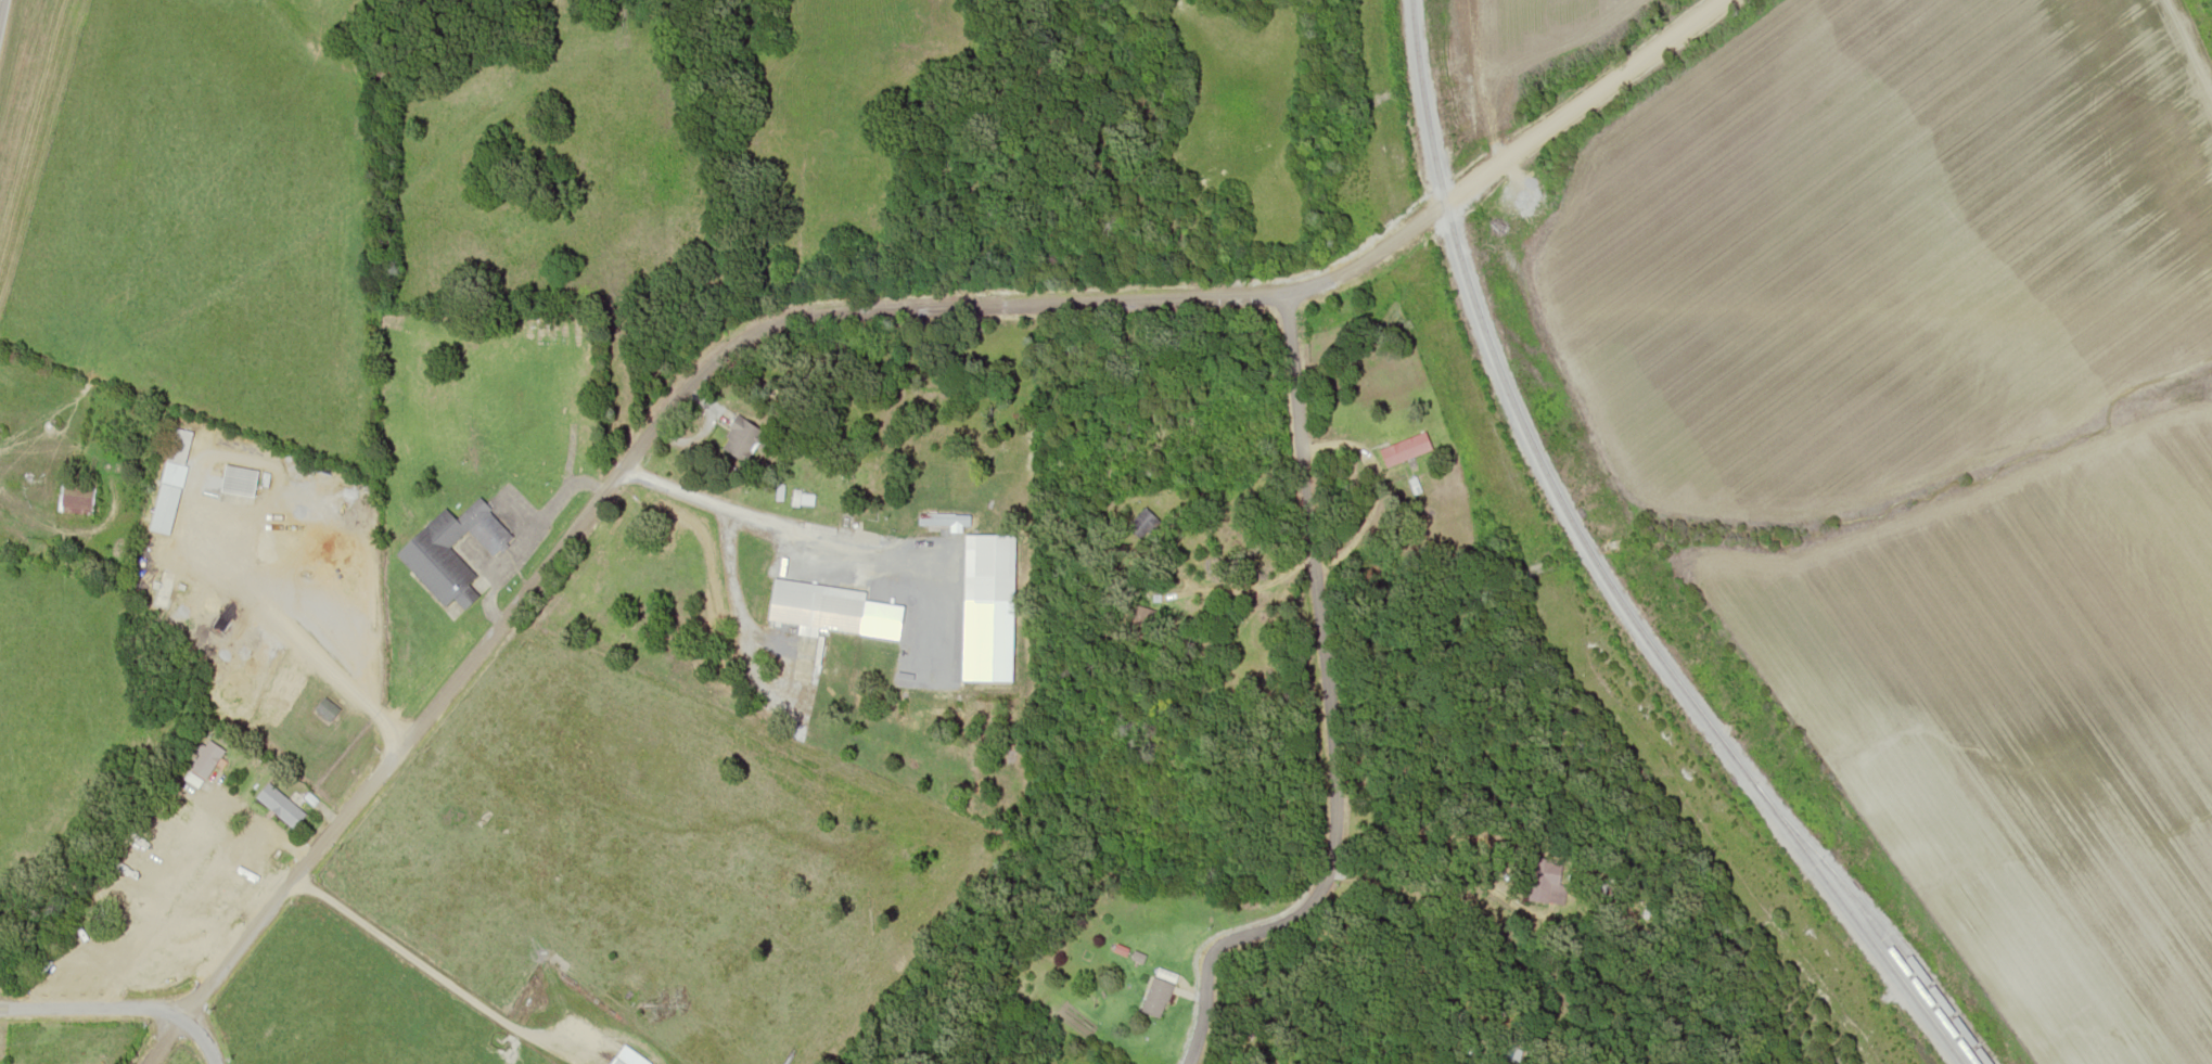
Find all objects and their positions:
road: (1505, 154)
building: (740, 437)
building: (178, 445)
building: (1403, 448)
building: (238, 479)
road: (606, 483)
building: (75, 493)
road: (752, 511)
building: (1139, 520)
building: (192, 539)
building: (450, 551)
road: (212, 572)
railway: (1601, 572)
building: (815, 605)
road: (747, 669)
building: (278, 696)
building: (325, 708)
road: (1324, 714)
building: (202, 762)
building: (279, 804)
building: (190, 816)
building: (1546, 881)
road: (429, 969)
building: (1155, 997)
road: (122, 1007)
building: (615, 1061)

